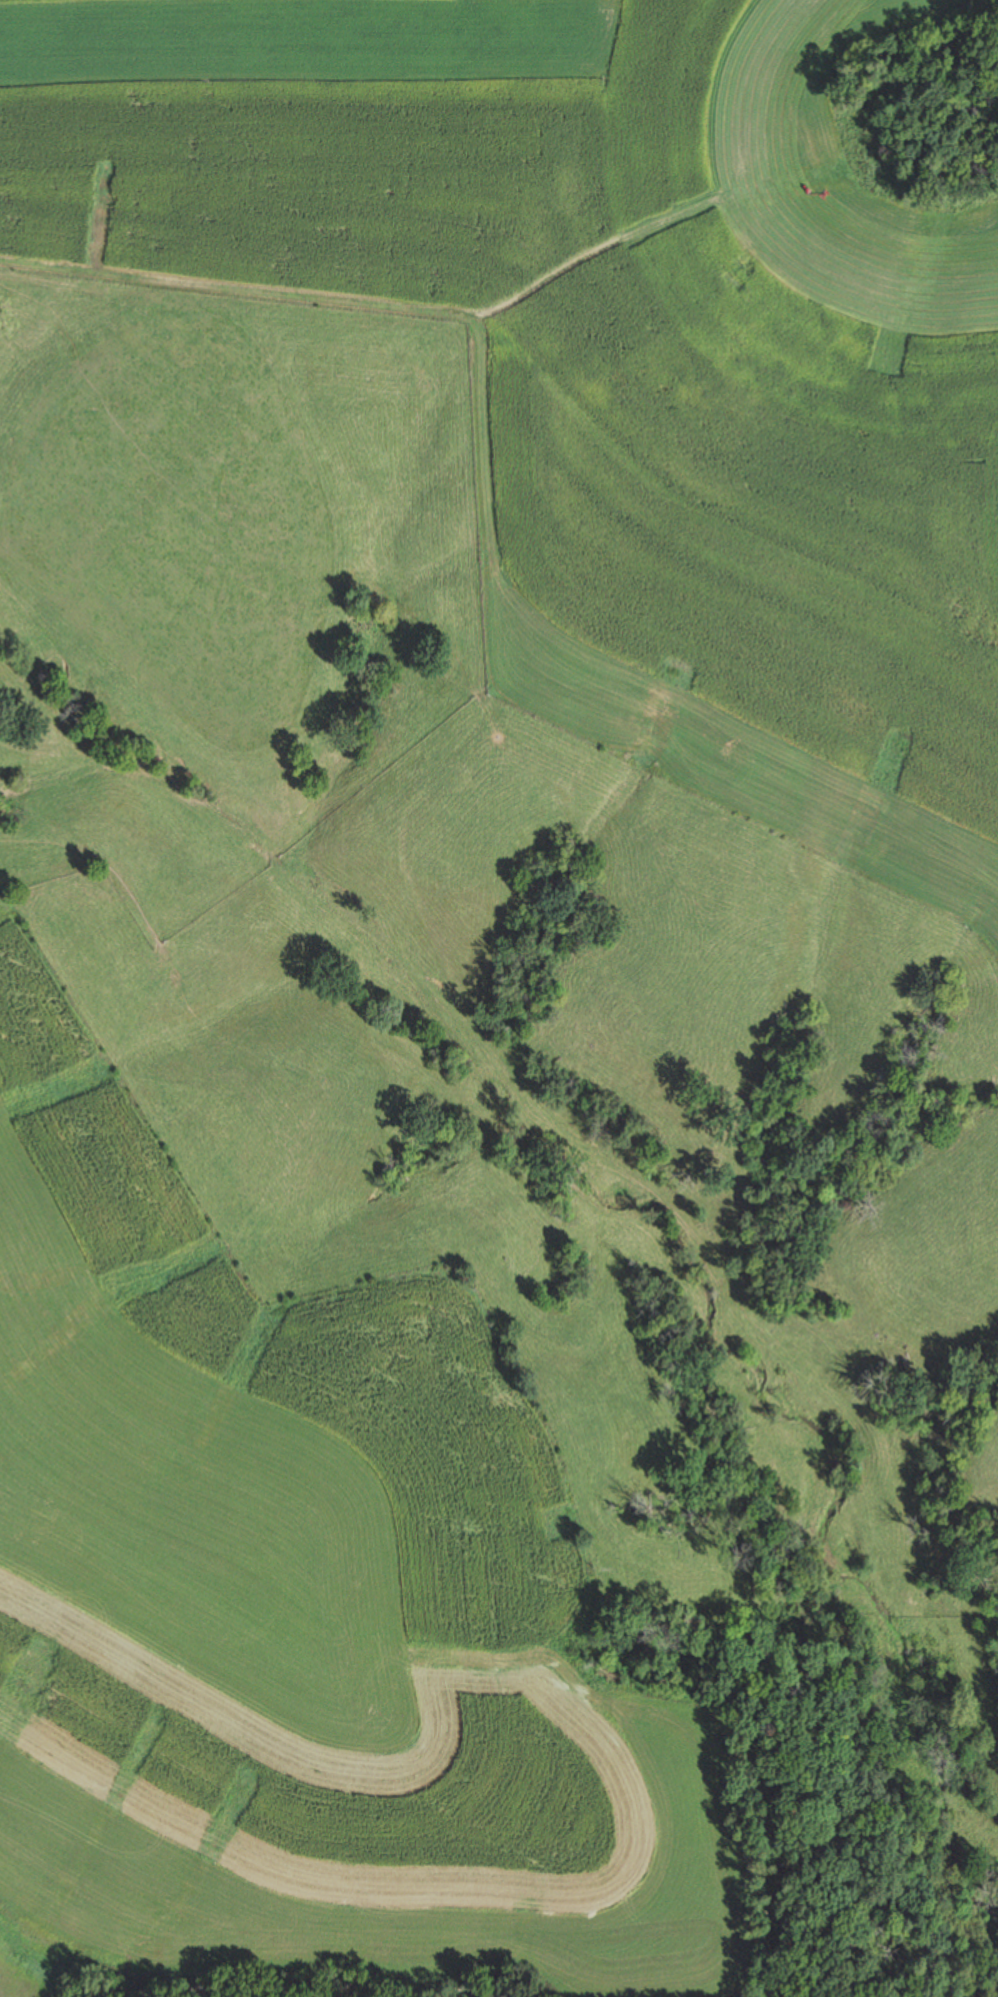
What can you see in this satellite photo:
road: (317, 850)

